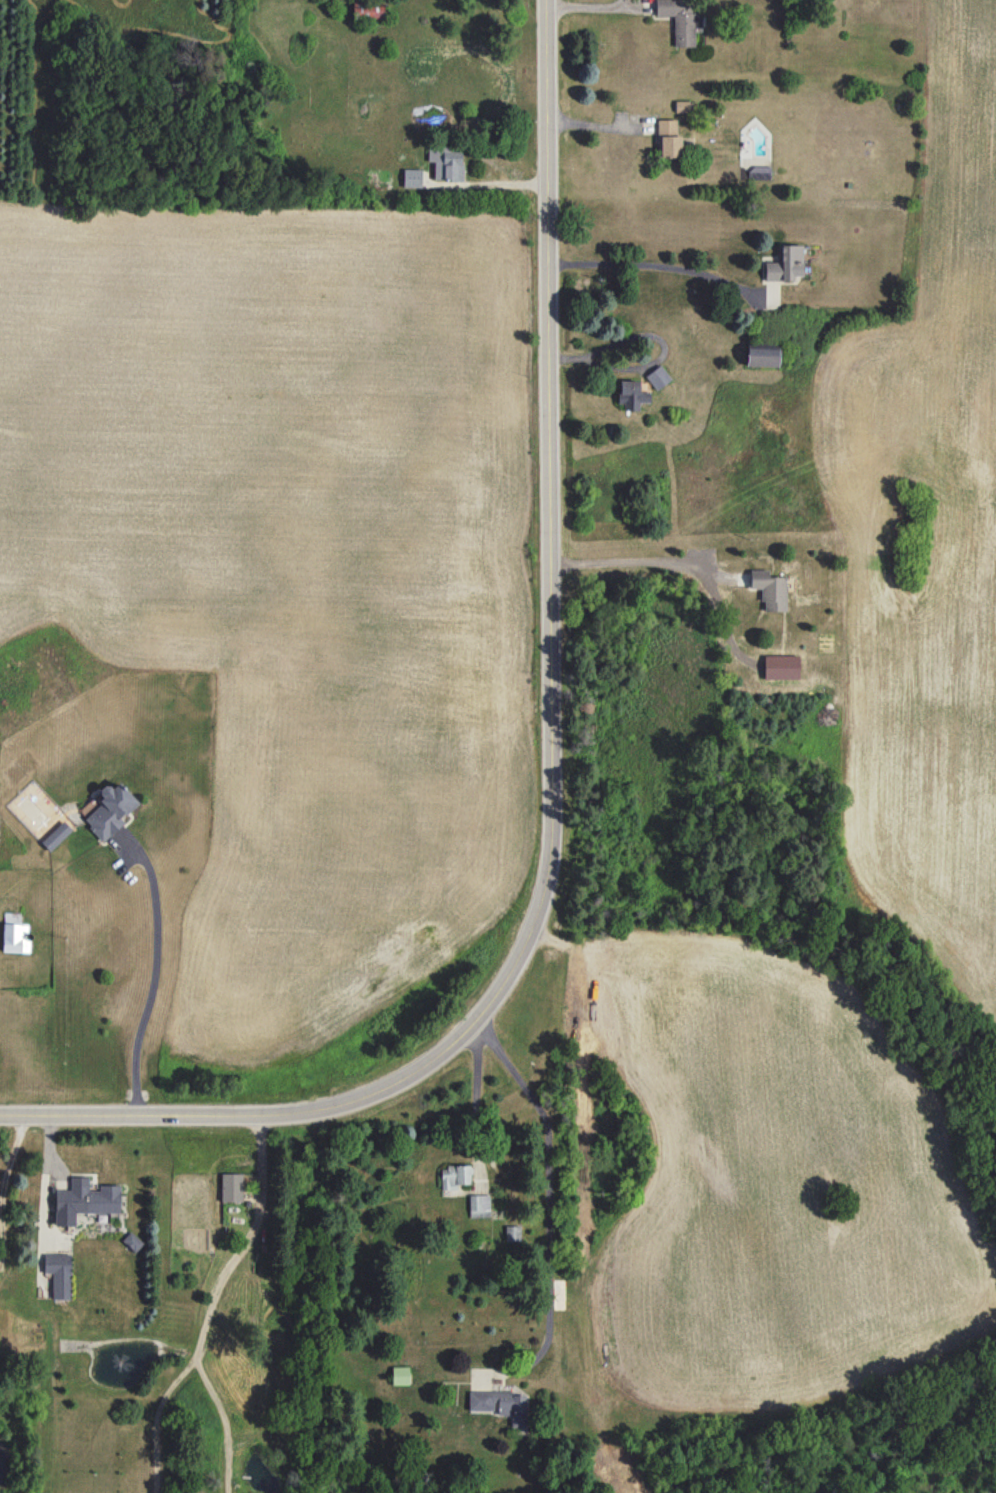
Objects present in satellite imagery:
road: (392, 0)
road: (534, 2)
road: (595, 6)
building: (368, 10)
building: (680, 20)
building: (682, 106)
road: (603, 125)
building: (668, 137)
building: (447, 163)
building: (759, 172)
building: (412, 178)
building: (785, 264)
road: (664, 265)
building: (762, 354)
building: (658, 377)
building: (631, 394)
road: (646, 561)
building: (769, 589)
road: (545, 771)
building: (110, 810)
building: (56, 835)
building: (14, 934)
road: (154, 976)
road: (478, 1090)
building: (455, 1176)
building: (231, 1187)
road: (0, 1189)
road: (545, 1193)
building: (87, 1197)
building: (479, 1205)
building: (512, 1233)
building: (132, 1241)
road: (244, 1244)
building: (59, 1274)
building: (400, 1375)
building: (501, 1404)
road: (155, 1421)
road: (226, 1423)

